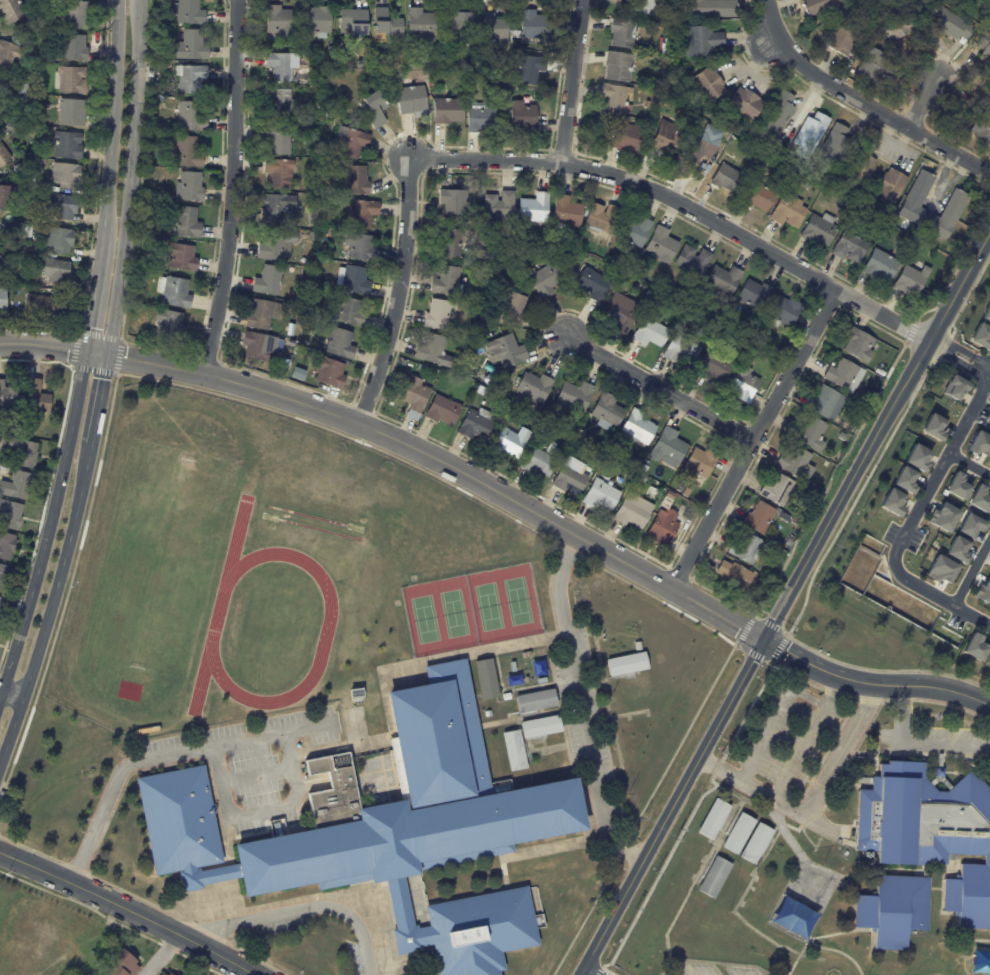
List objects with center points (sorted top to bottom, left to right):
building: (645, 7)
building: (709, 8)
building: (816, 8)
building: (12, 10)
building: (187, 12)
building: (78, 14)
building: (678, 16)
building: (279, 21)
building: (353, 21)
building: (455, 21)
building: (315, 22)
building: (385, 23)
building: (949, 23)
building: (896, 25)
building: (534, 26)
building: (420, 27)
building: (490, 31)
building: (622, 33)
building: (842, 38)
building: (18, 41)
building: (701, 41)
building: (666, 42)
building: (257, 45)
building: (984, 45)
building: (188, 46)
building: (78, 47)
building: (329, 50)
building: (371, 50)
building: (13, 59)
building: (871, 64)
building: (359, 65)
building: (434, 65)
building: (529, 66)
building: (617, 66)
building: (282, 67)
building: (464, 68)
building: (484, 69)
building: (41, 71)
building: (189, 79)
building: (75, 80)
road: (570, 81)
building: (707, 84)
building: (479, 87)
building: (529, 90)
building: (412, 101)
building: (613, 101)
road: (862, 101)
building: (278, 102)
building: (744, 103)
road: (920, 103)
building: (647, 105)
building: (377, 109)
building: (989, 109)
building: (446, 111)
building: (75, 113)
building: (777, 115)
building: (190, 116)
building: (522, 116)
building: (479, 119)
road: (112, 122)
building: (10, 128)
building: (981, 128)
building: (171, 129)
building: (666, 135)
building: (810, 135)
building: (278, 138)
building: (625, 138)
building: (352, 142)
building: (700, 144)
building: (71, 145)
building: (832, 148)
building: (185, 153)
building: (5, 155)
building: (34, 162)
building: (861, 168)
building: (278, 174)
building: (70, 176)
road: (130, 178)
building: (726, 179)
building: (354, 181)
building: (773, 184)
building: (891, 186)
building: (32, 187)
building: (188, 187)
road: (233, 188)
building: (844, 191)
building: (6, 197)
building: (756, 197)
building: (916, 199)
building: (453, 202)
road: (682, 203)
building: (498, 205)
building: (65, 207)
building: (533, 208)
building: (278, 210)
building: (789, 212)
building: (565, 213)
building: (361, 215)
building: (948, 215)
building: (601, 218)
building: (888, 218)
building: (185, 223)
building: (880, 225)
building: (819, 230)
building: (633, 231)
building: (312, 237)
building: (64, 240)
building: (319, 241)
building: (447, 244)
building: (518, 244)
building: (275, 245)
building: (661, 245)
building: (358, 247)
building: (851, 247)
building: (886, 248)
building: (482, 256)
building: (180, 257)
building: (692, 261)
building: (880, 265)
building: (58, 272)
building: (640, 273)
building: (545, 280)
building: (722, 280)
building: (911, 280)
building: (142, 281)
building: (266, 281)
building: (354, 281)
building: (445, 282)
building: (592, 283)
building: (19, 291)
building: (174, 293)
road: (397, 293)
building: (755, 295)
road: (93, 298)
building: (5, 300)
building: (42, 306)
building: (511, 309)
building: (347, 311)
building: (782, 313)
building: (986, 313)
building: (262, 315)
building: (436, 315)
building: (621, 315)
building: (168, 325)
building: (311, 327)
building: (651, 333)
building: (742, 333)
building: (292, 334)
building: (980, 337)
road: (954, 343)
building: (290, 344)
building: (340, 344)
building: (858, 345)
building: (257, 347)
building: (465, 347)
building: (680, 350)
building: (508, 351)
building: (432, 352)
road: (946, 358)
road: (976, 362)
building: (713, 367)
building: (422, 368)
road: (972, 368)
road: (983, 370)
building: (880, 372)
building: (329, 373)
building: (297, 375)
building: (844, 376)
building: (488, 380)
building: (743, 382)
building: (533, 387)
building: (954, 387)
road: (658, 388)
building: (9, 395)
building: (40, 396)
building: (413, 397)
building: (573, 397)
road: (100, 399)
building: (826, 403)
building: (861, 407)
building: (441, 410)
building: (606, 412)
building: (538, 415)
building: (550, 419)
building: (474, 425)
building: (933, 427)
building: (637, 430)
building: (809, 434)
building: (581, 435)
building: (842, 437)
road: (752, 438)
road: (399, 441)
building: (511, 441)
building: (979, 444)
building: (668, 450)
building: (26, 451)
building: (917, 457)
building: (989, 460)
building: (539, 461)
building: (699, 464)
building: (796, 464)
road: (969, 465)
building: (643, 469)
road: (939, 471)
building: (570, 478)
building: (644, 479)
building: (904, 479)
building: (634, 483)
building: (674, 484)
building: (19, 485)
building: (957, 486)
building: (776, 491)
building: (654, 494)
building: (601, 495)
building: (979, 498)
building: (892, 502)
building: (682, 509)
building: (632, 512)
building: (13, 514)
building: (988, 515)
building: (942, 517)
building: (758, 519)
building: (795, 522)
road: (49, 524)
building: (663, 524)
building: (970, 525)
building: (8, 545)
building: (745, 547)
building: (770, 547)
building: (957, 549)
track: (95, 559)
building: (940, 569)
road: (971, 572)
building: (731, 574)
building: (4, 575)
building: (983, 592)
road: (939, 599)
road: (784, 600)
building: (1, 601)
road: (50, 603)
park: (469, 612)
traffic signals: (763, 640)
building: (974, 647)
building: (528, 654)
building: (524, 655)
building: (988, 663)
building: (626, 666)
building: (486, 678)
road: (873, 683)
building: (354, 693)
building: (506, 696)
road: (10, 697)
parking lot: (578, 701)
building: (534, 703)
road: (582, 705)
road: (780, 707)
building: (540, 727)
parking lot: (788, 735)
road: (235, 743)
parking lot: (926, 743)
road: (917, 744)
building: (514, 753)
road: (795, 753)
parking lot: (247, 763)
road: (256, 777)
road: (813, 802)
building: (410, 803)
road: (263, 811)
road: (95, 816)
building: (178, 820)
building: (713, 821)
building: (738, 836)
building: (756, 845)
building: (921, 852)
building: (688, 865)
building: (713, 878)
building: (732, 888)
building: (756, 902)
building: (665, 906)
road: (129, 910)
road: (294, 913)
building: (690, 917)
building: (479, 931)
road: (161, 954)
building: (121, 966)
parking lot: (710, 969)
building: (168, 973)
building: (163, 974)
road: (583, 974)

